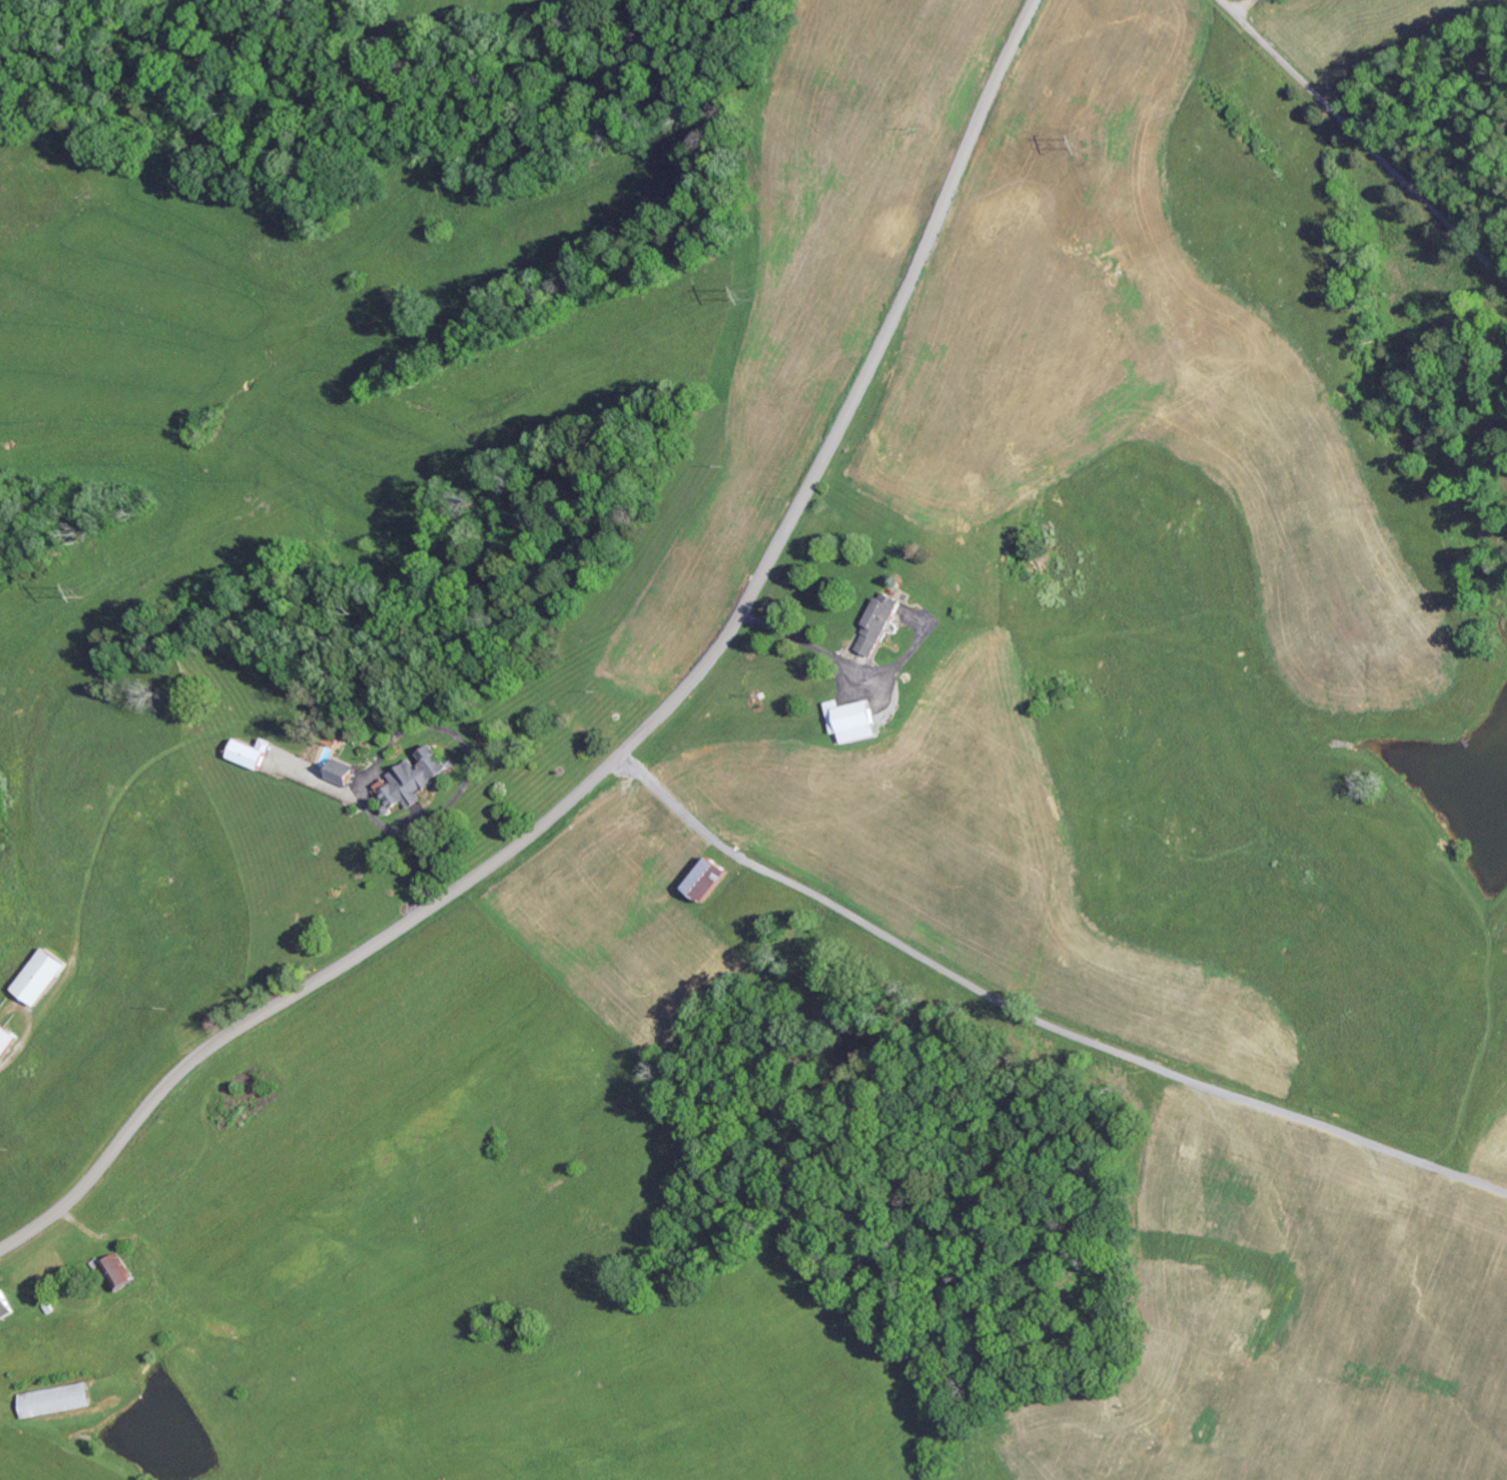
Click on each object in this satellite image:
road: (1364, 141)
power tower: (1086, 144)
power tower: (749, 292)
power tower: (86, 588)
building: (880, 623)
building: (853, 719)
road: (644, 730)
building: (252, 752)
building: (344, 772)
building: (417, 778)
building: (710, 879)
building: (46, 974)
road: (1039, 1019)
building: (8, 1038)
building: (117, 1271)
building: (6, 1303)
building: (55, 1398)

